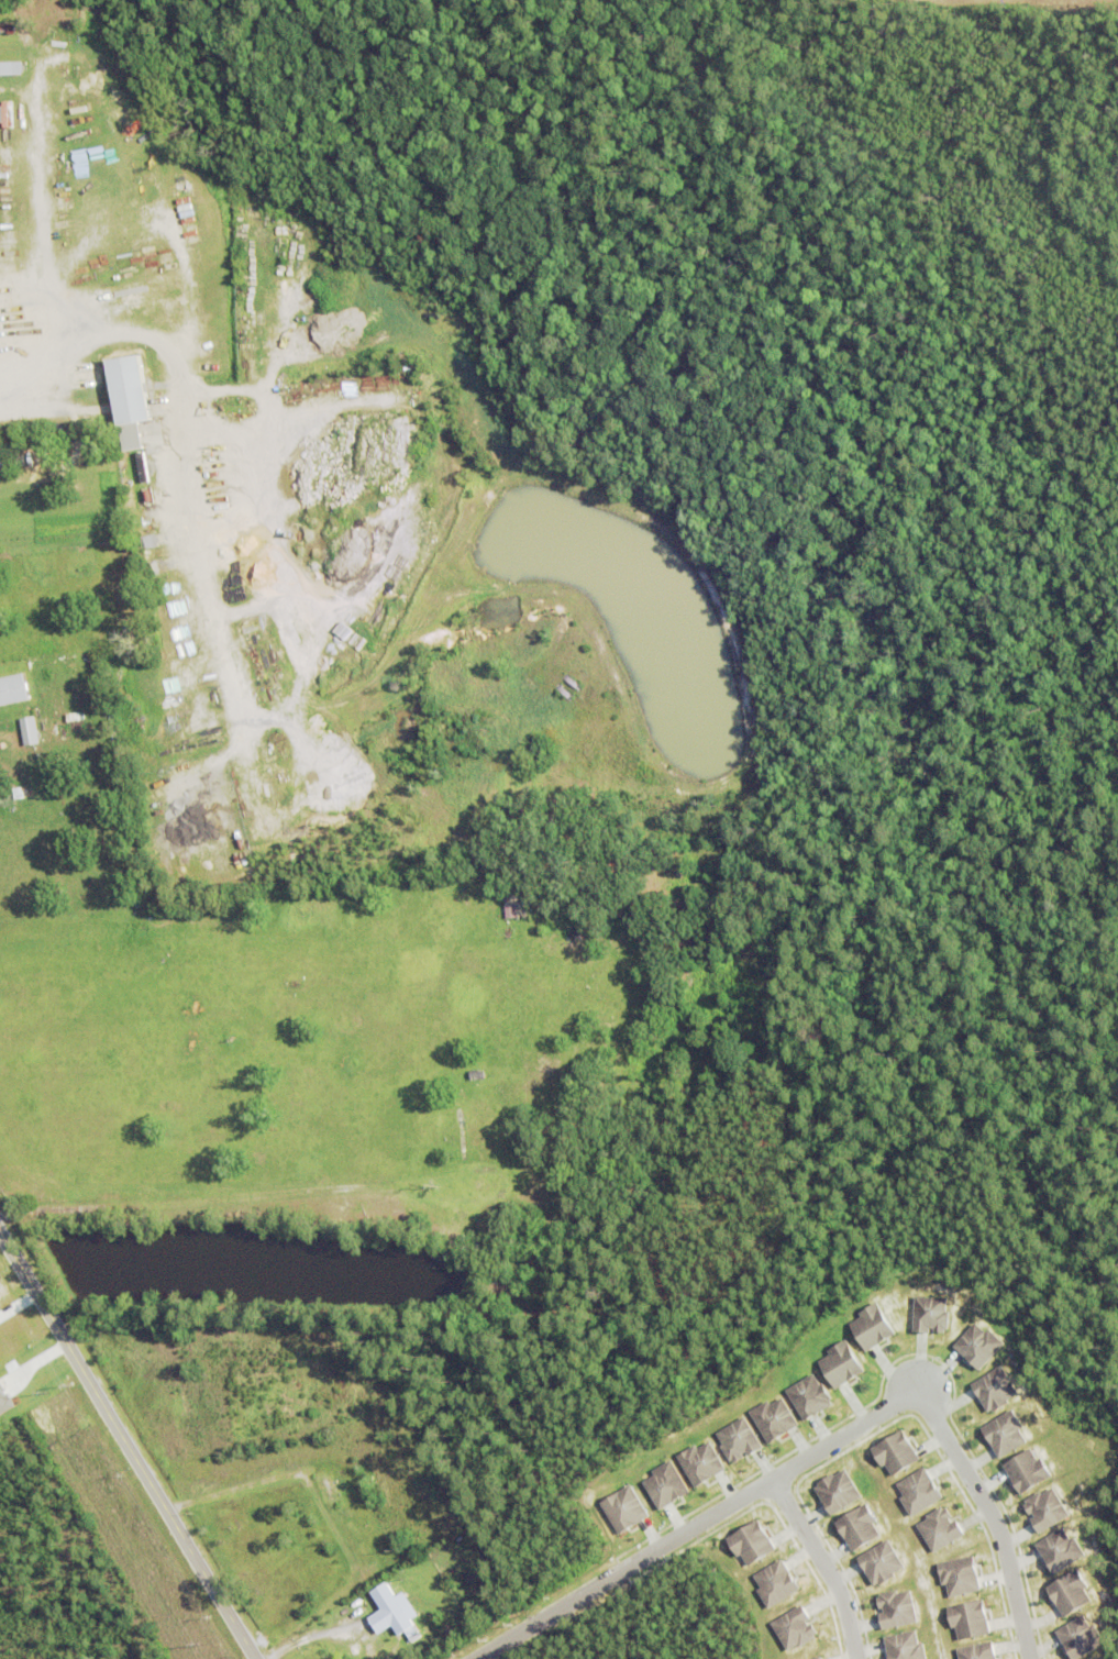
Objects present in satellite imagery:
building: (8, 31)
building: (0, 70)
building: (243, 264)
building: (130, 439)
road: (181, 451)
building: (9, 463)
building: (137, 463)
building: (70, 662)
building: (12, 689)
building: (27, 733)
building: (477, 1073)
building: (930, 1313)
building: (871, 1325)
building: (978, 1343)
building: (840, 1362)
building: (994, 1387)
building: (808, 1395)
building: (4, 1402)
building: (773, 1417)
building: (1005, 1433)
building: (737, 1439)
road: (128, 1445)
building: (895, 1451)
building: (700, 1462)
building: (1027, 1470)
building: (665, 1484)
building: (328, 1489)
road: (230, 1490)
building: (837, 1490)
building: (918, 1491)
building: (623, 1507)
building: (1045, 1508)
road: (990, 1517)
road: (698, 1524)
building: (859, 1526)
building: (939, 1528)
building: (750, 1541)
building: (1060, 1549)
building: (881, 1561)
road: (822, 1564)
building: (959, 1575)
building: (775, 1582)
building: (1070, 1592)
building: (395, 1597)
building: (896, 1608)
building: (968, 1619)
building: (794, 1627)
road: (307, 1633)
building: (1080, 1636)
building: (904, 1646)
building: (977, 1651)
building: (816, 1657)
building: (1097, 1657)

